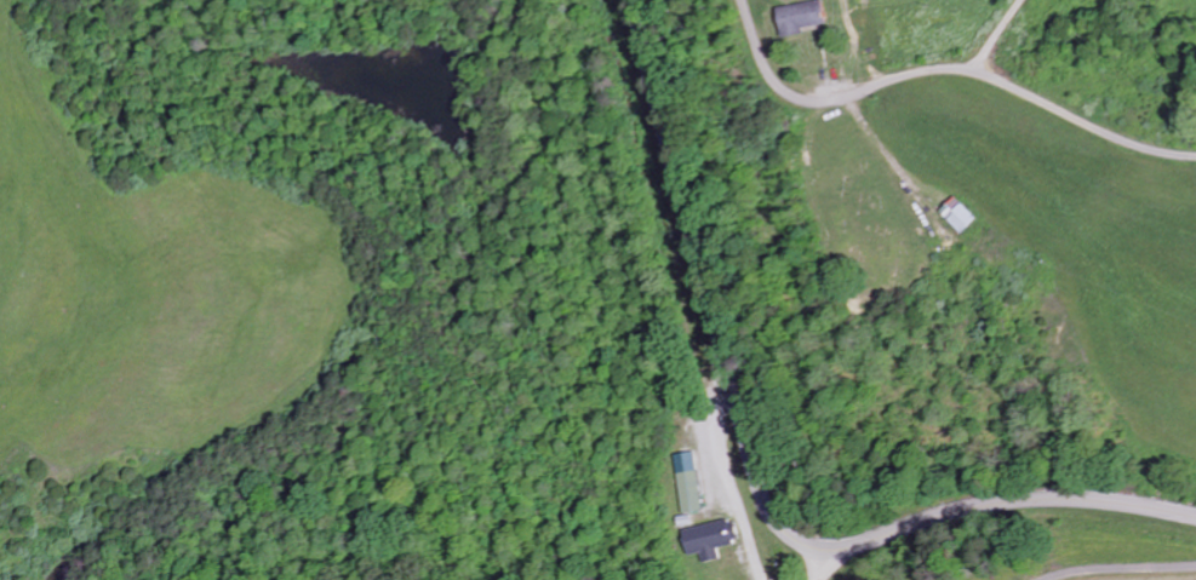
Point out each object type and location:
building: (799, 19)
road: (996, 35)
road: (946, 68)
building: (957, 217)
road: (754, 473)
building: (691, 483)
building: (710, 540)
road: (823, 564)

